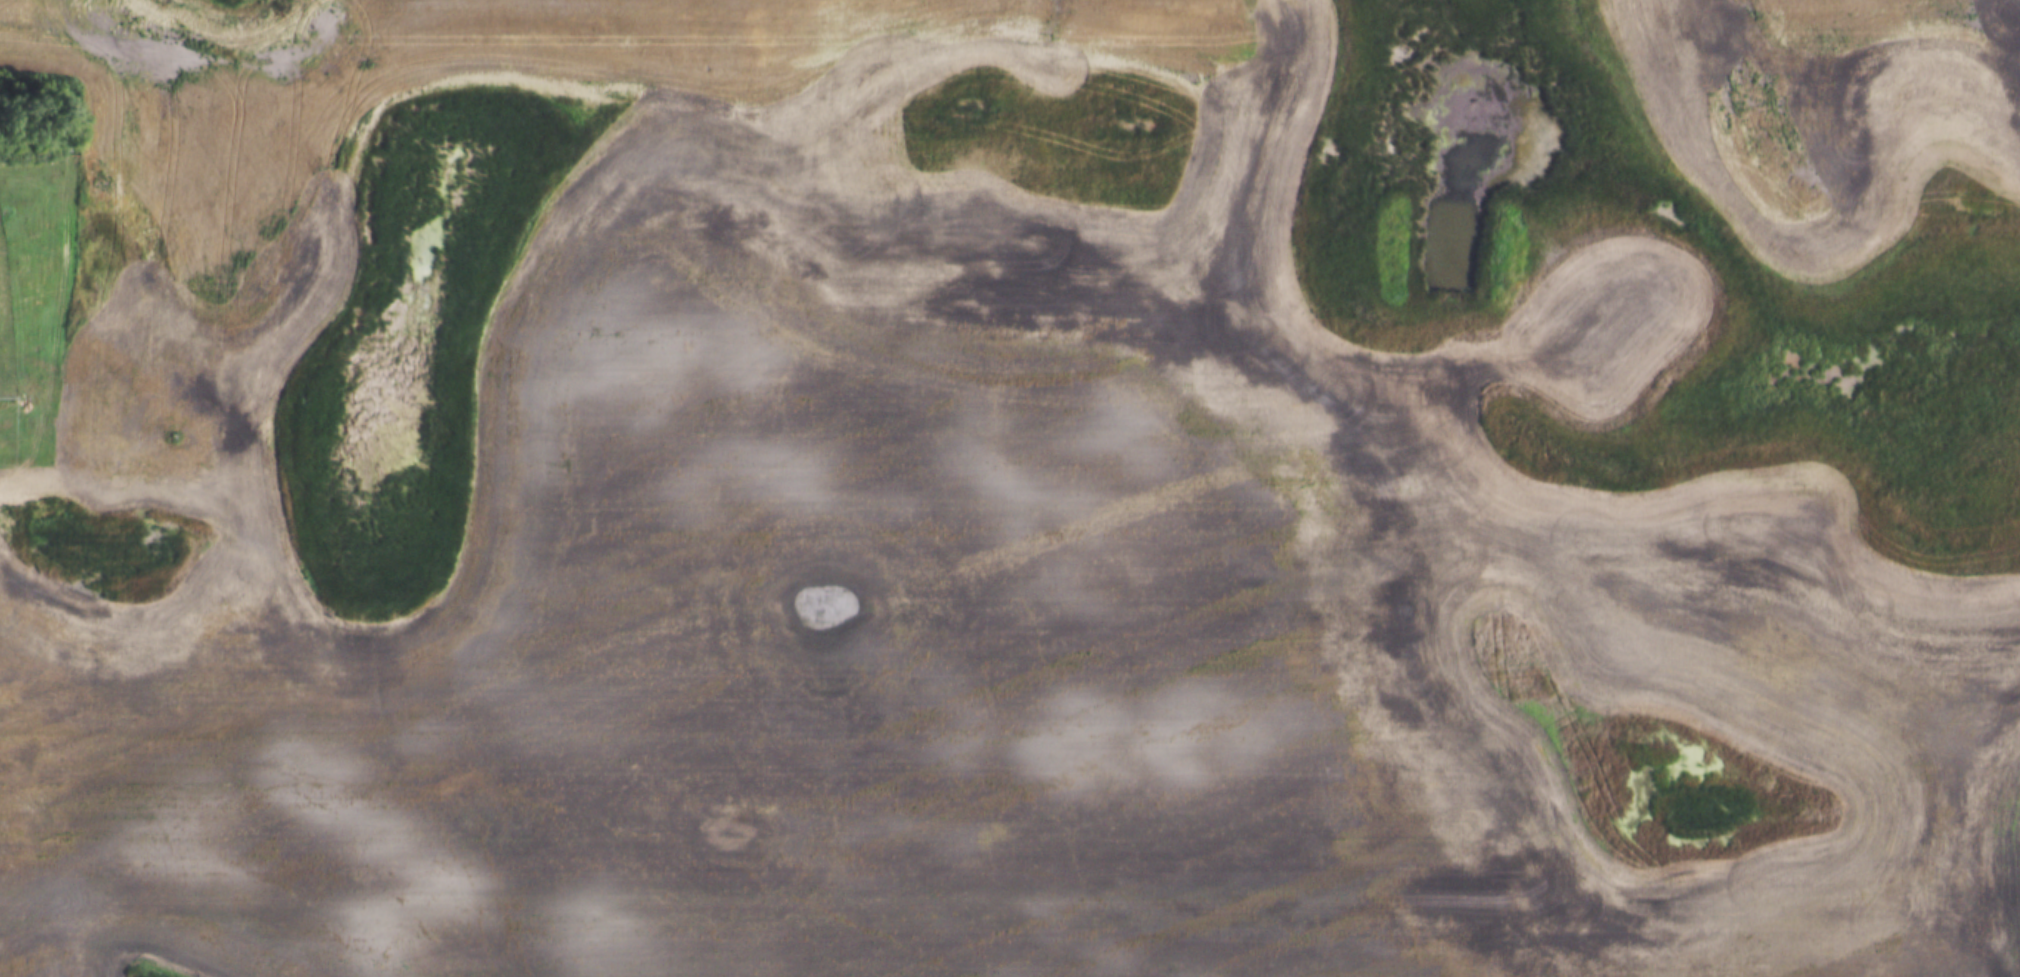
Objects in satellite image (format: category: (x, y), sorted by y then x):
building: (12, 368)

